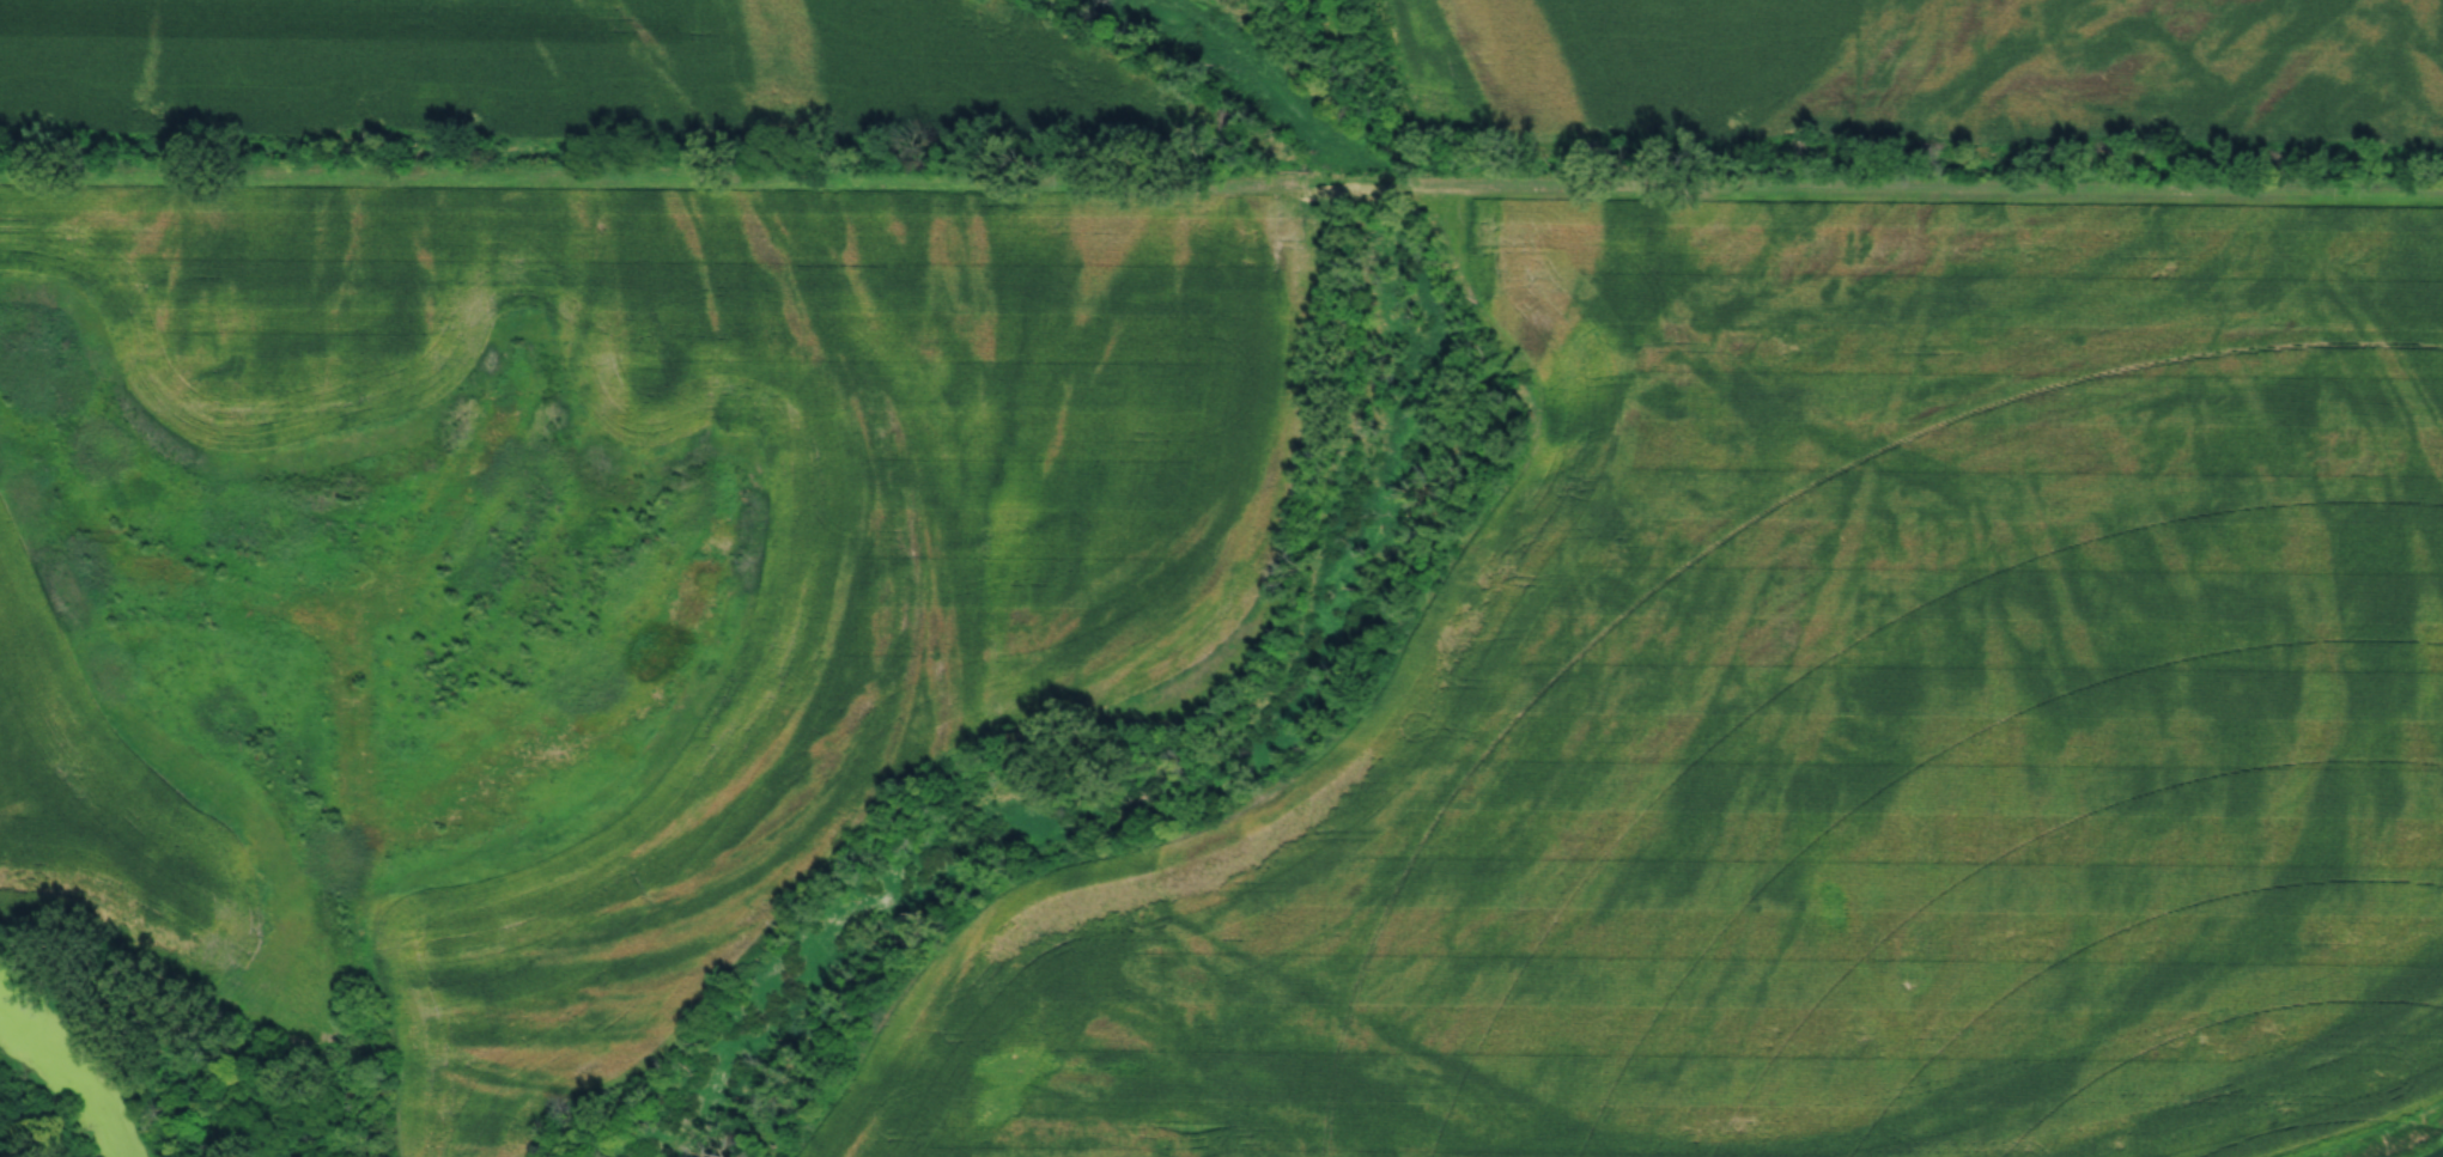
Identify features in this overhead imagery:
crop: (2433, 1152)

